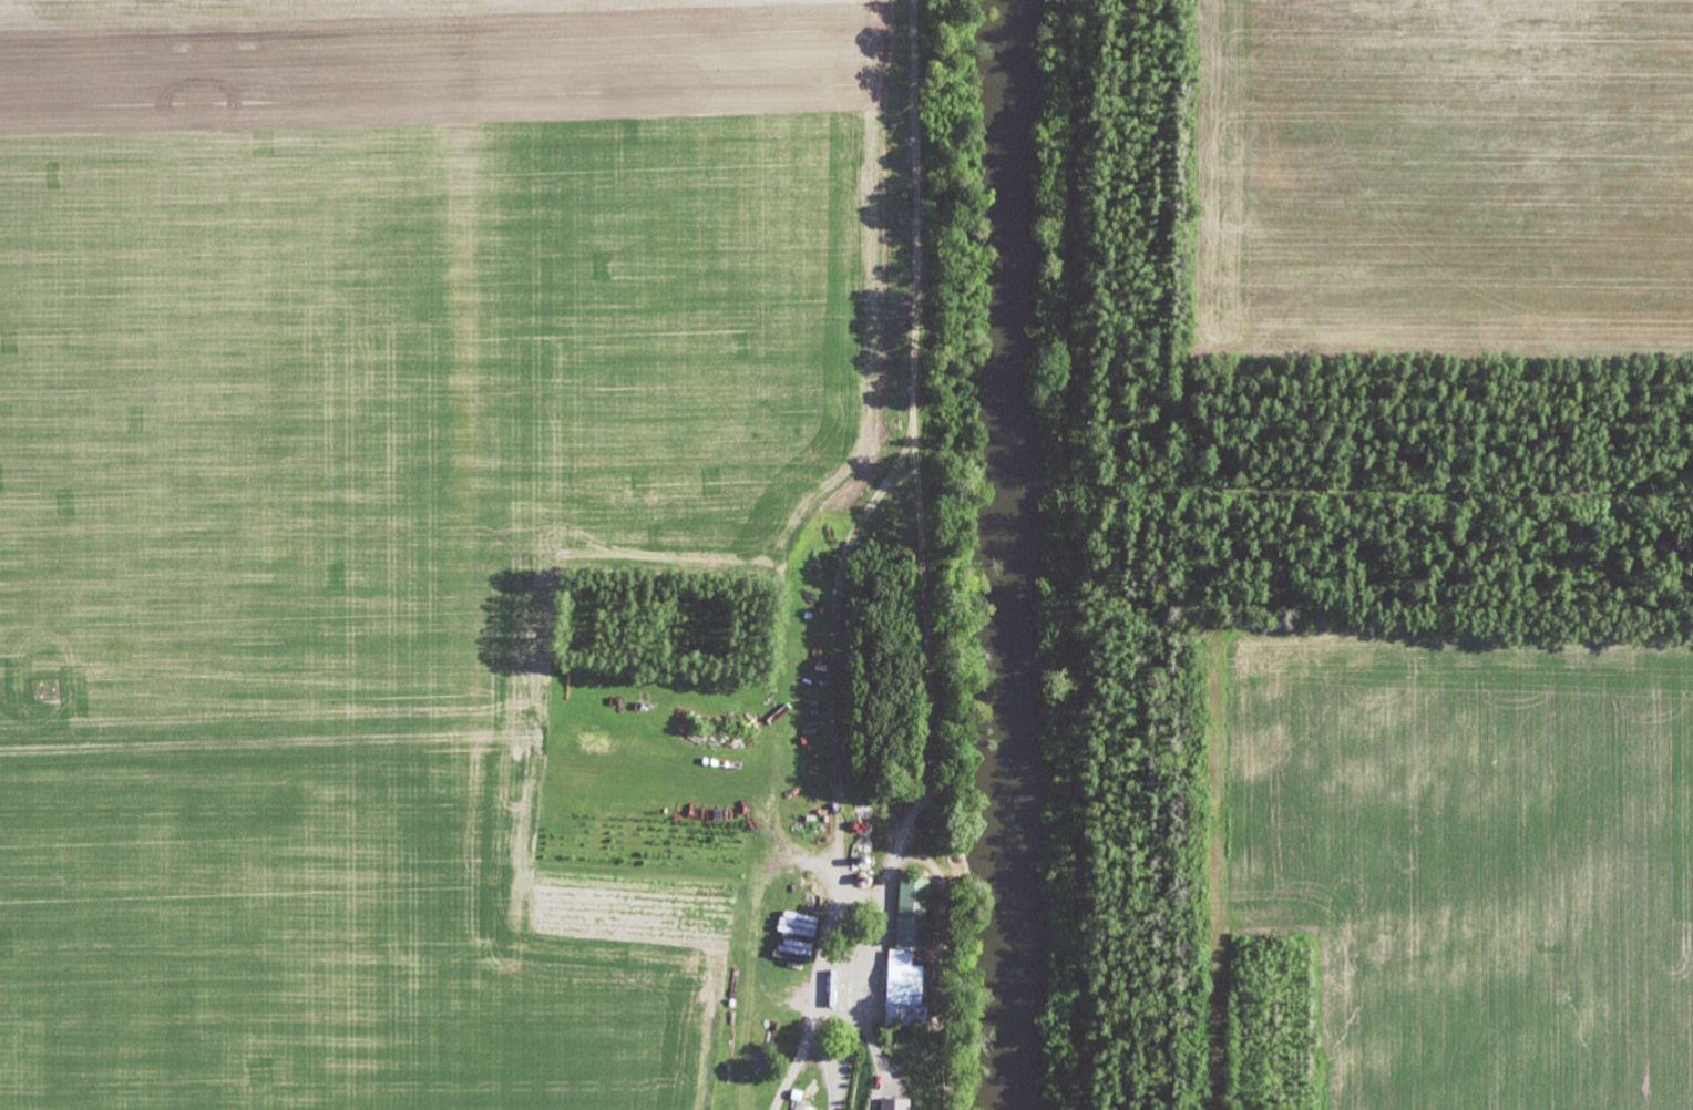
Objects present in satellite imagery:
building: (917, 914)
building: (911, 991)
road: (819, 997)
building: (900, 1103)

